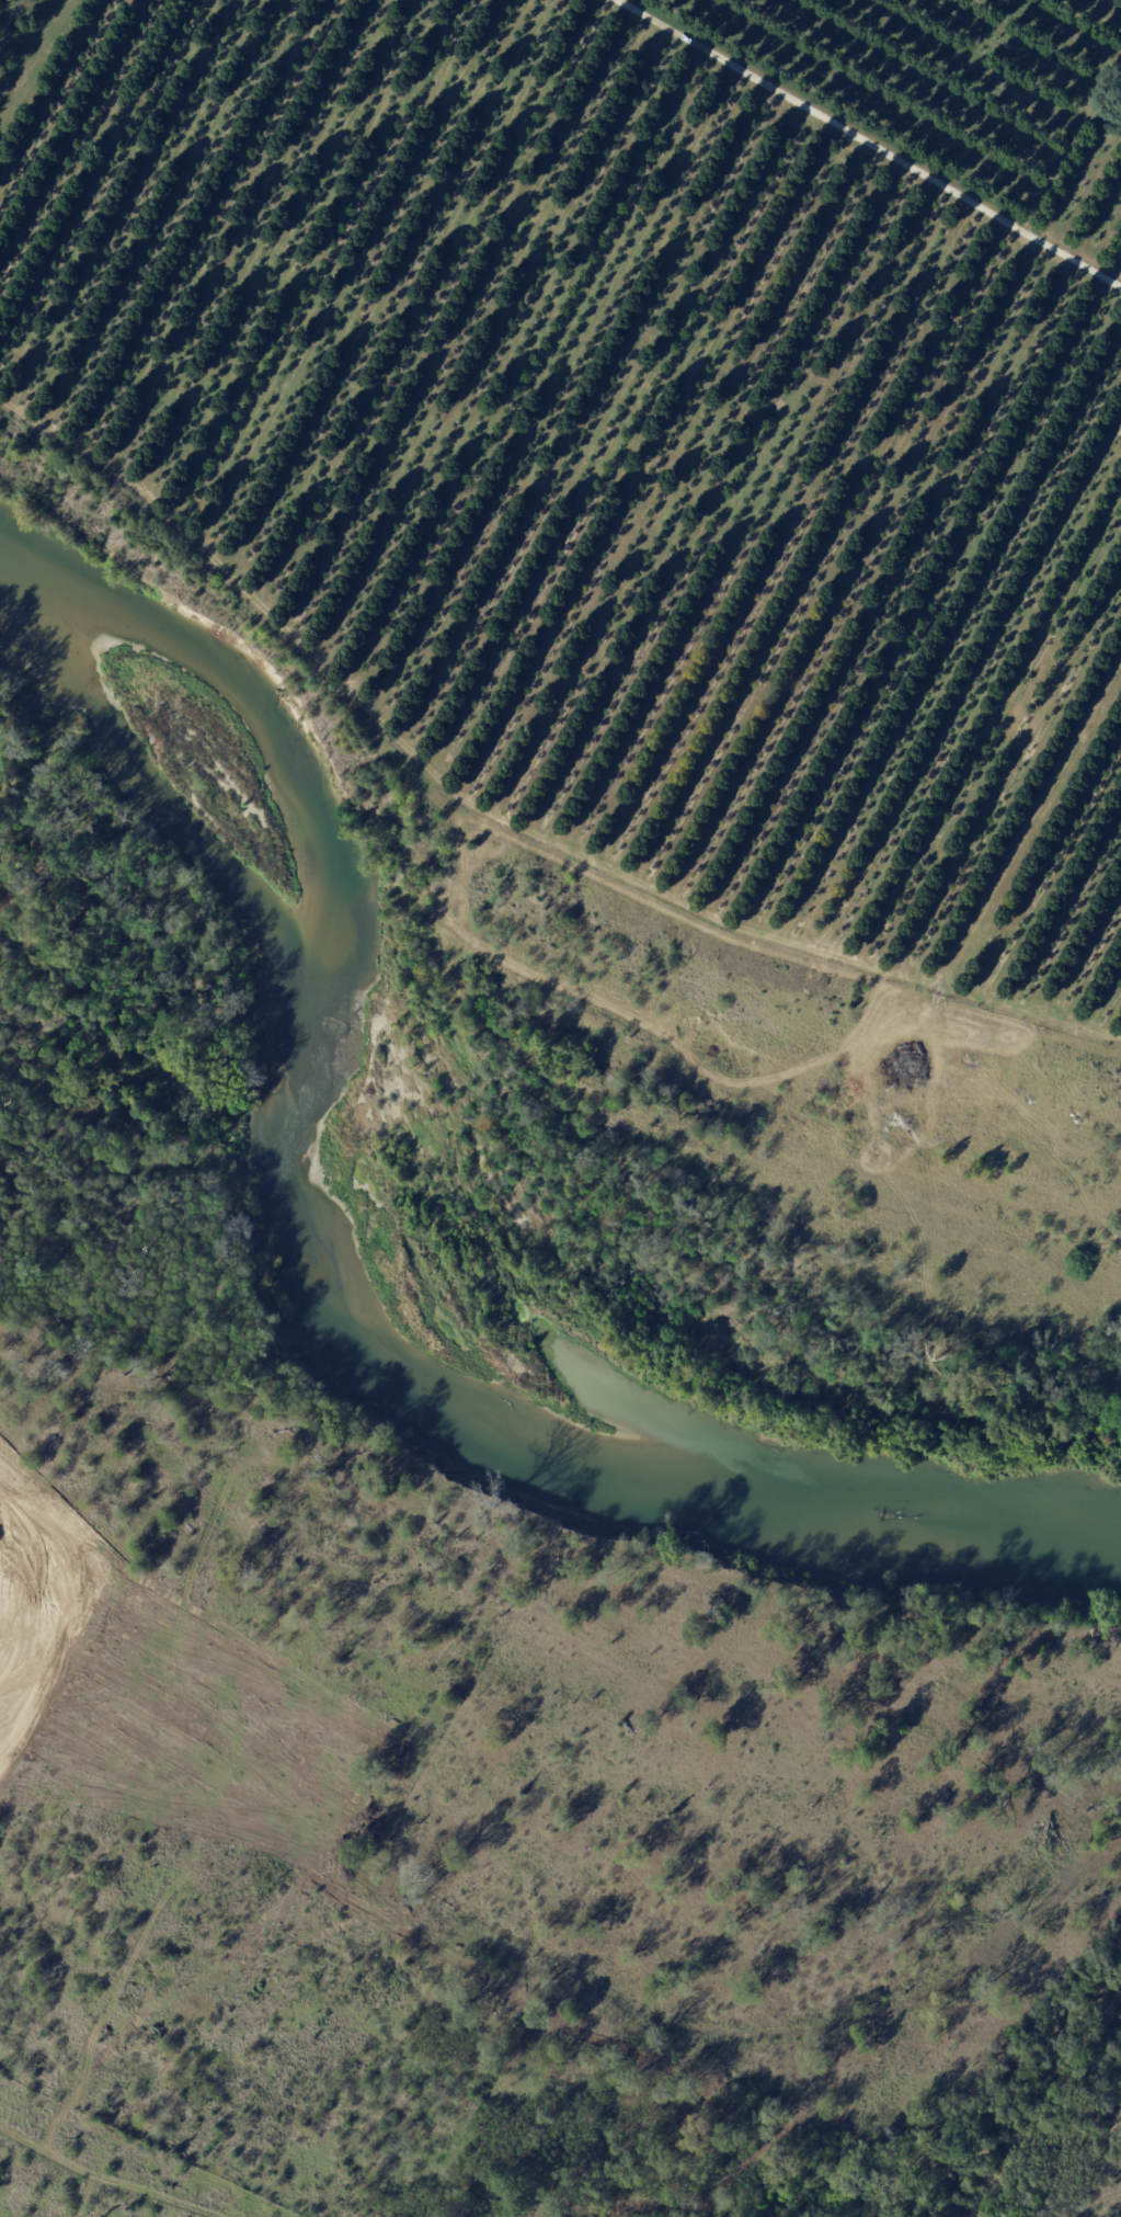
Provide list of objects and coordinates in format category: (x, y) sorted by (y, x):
road: (872, 140)
river: (323, 1270)

